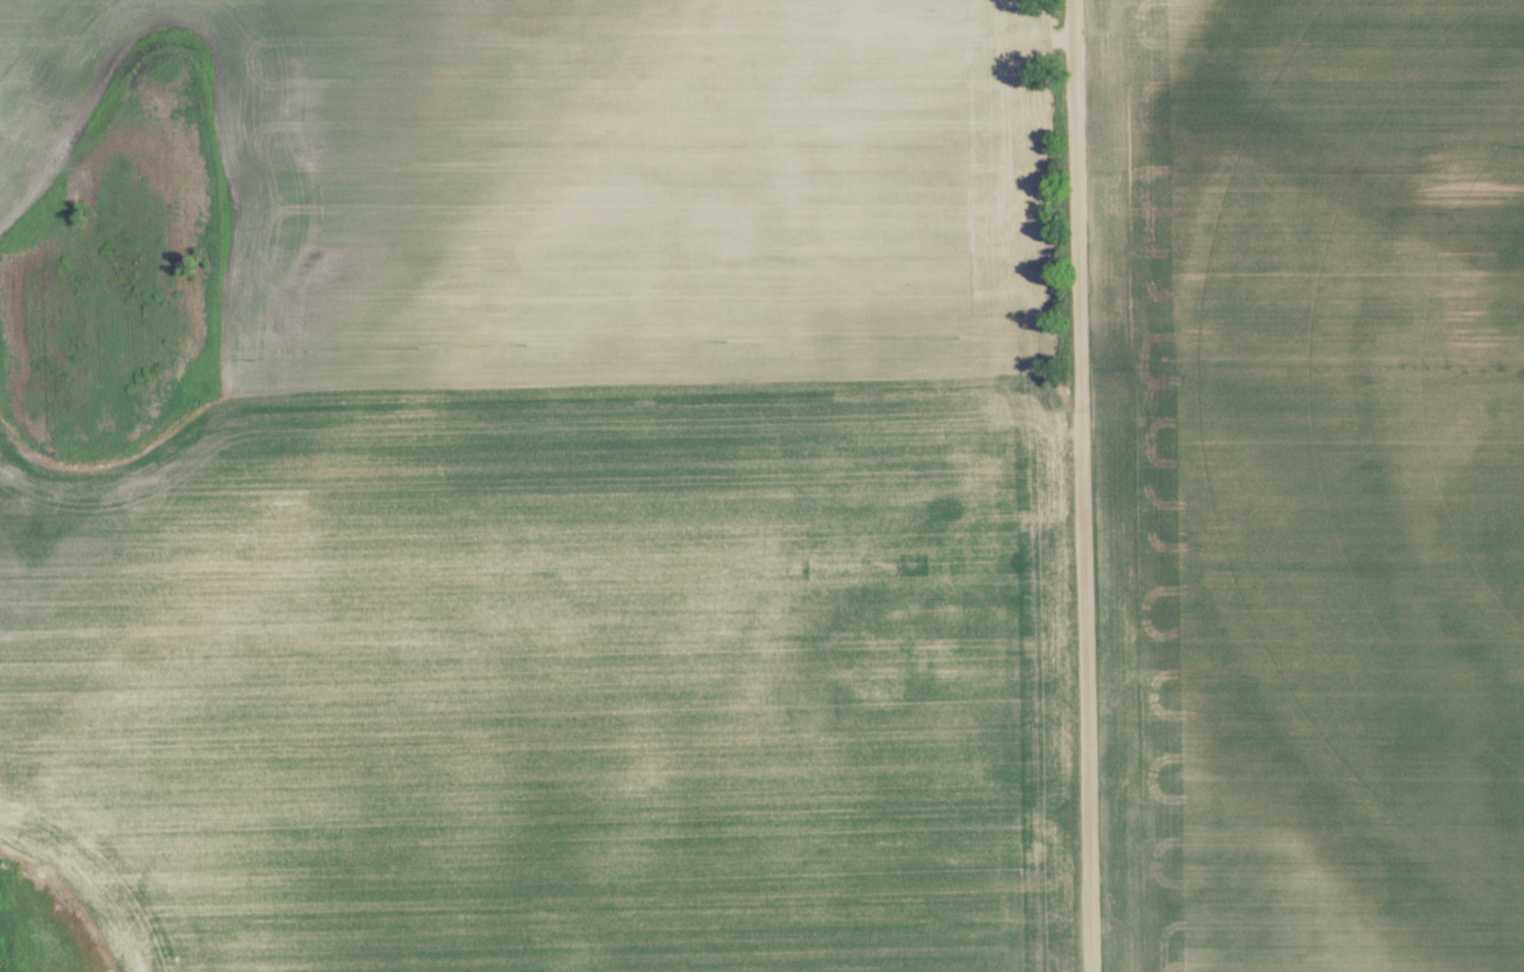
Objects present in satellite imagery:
road: (1077, 486)

